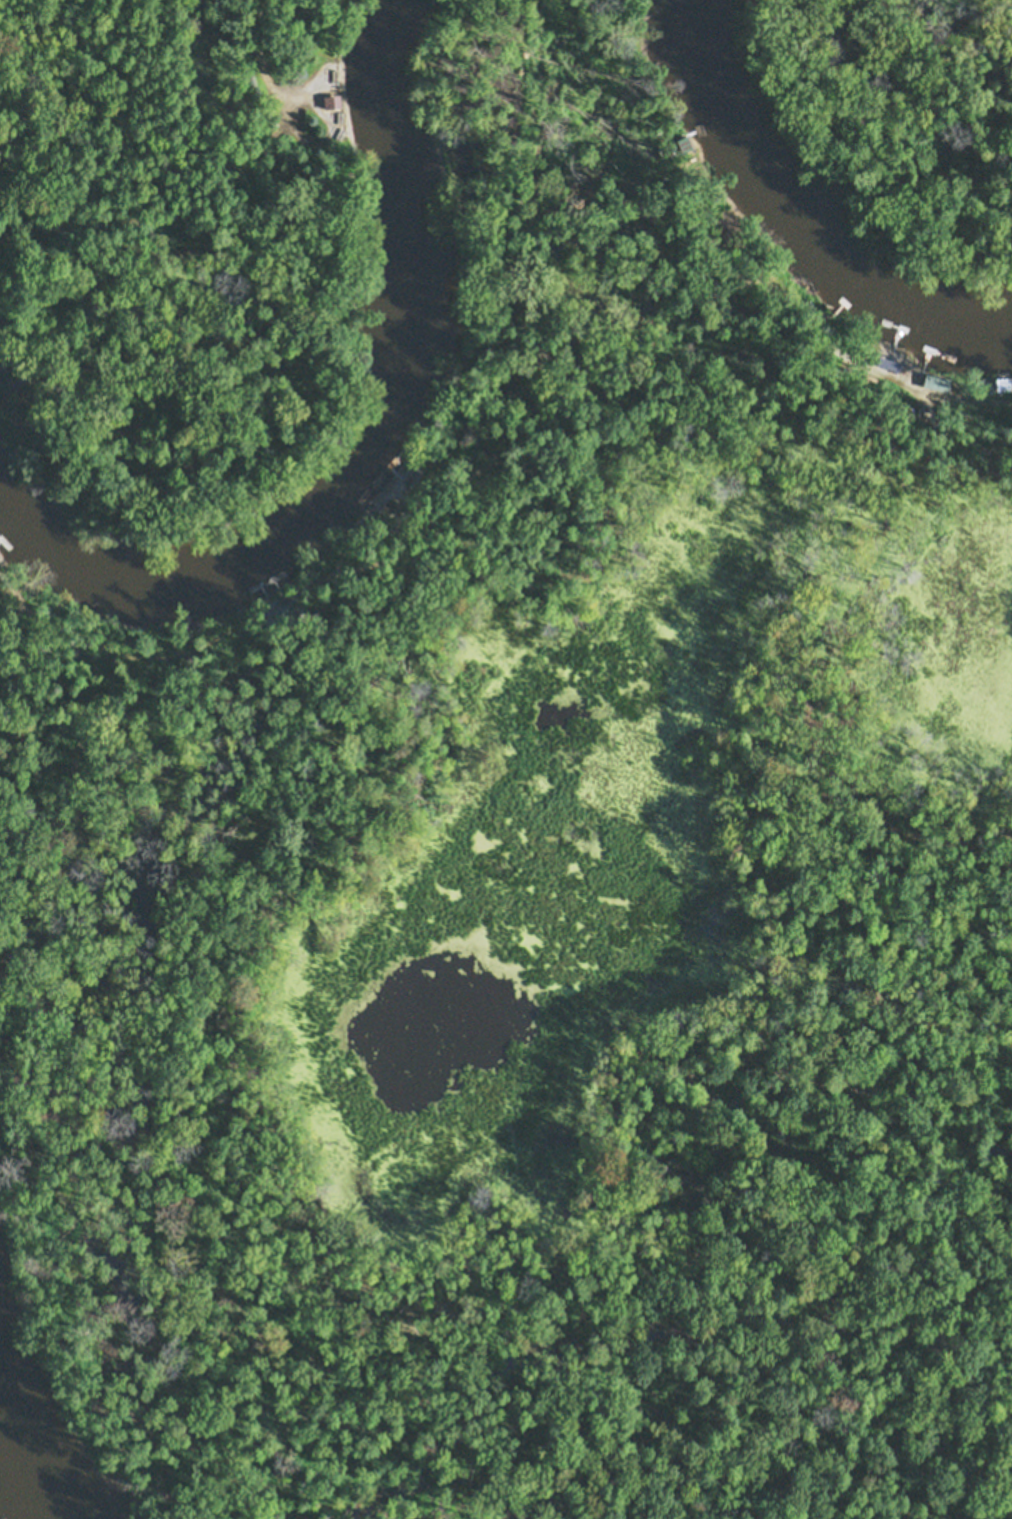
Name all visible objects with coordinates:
building: (329, 83)
building: (684, 140)
building: (737, 209)
building: (725, 225)
river: (790, 231)
building: (813, 308)
building: (885, 346)
building: (936, 378)
building: (1003, 380)
river: (368, 454)
building: (414, 475)
building: (390, 506)
building: (285, 606)
river: (31, 1459)

